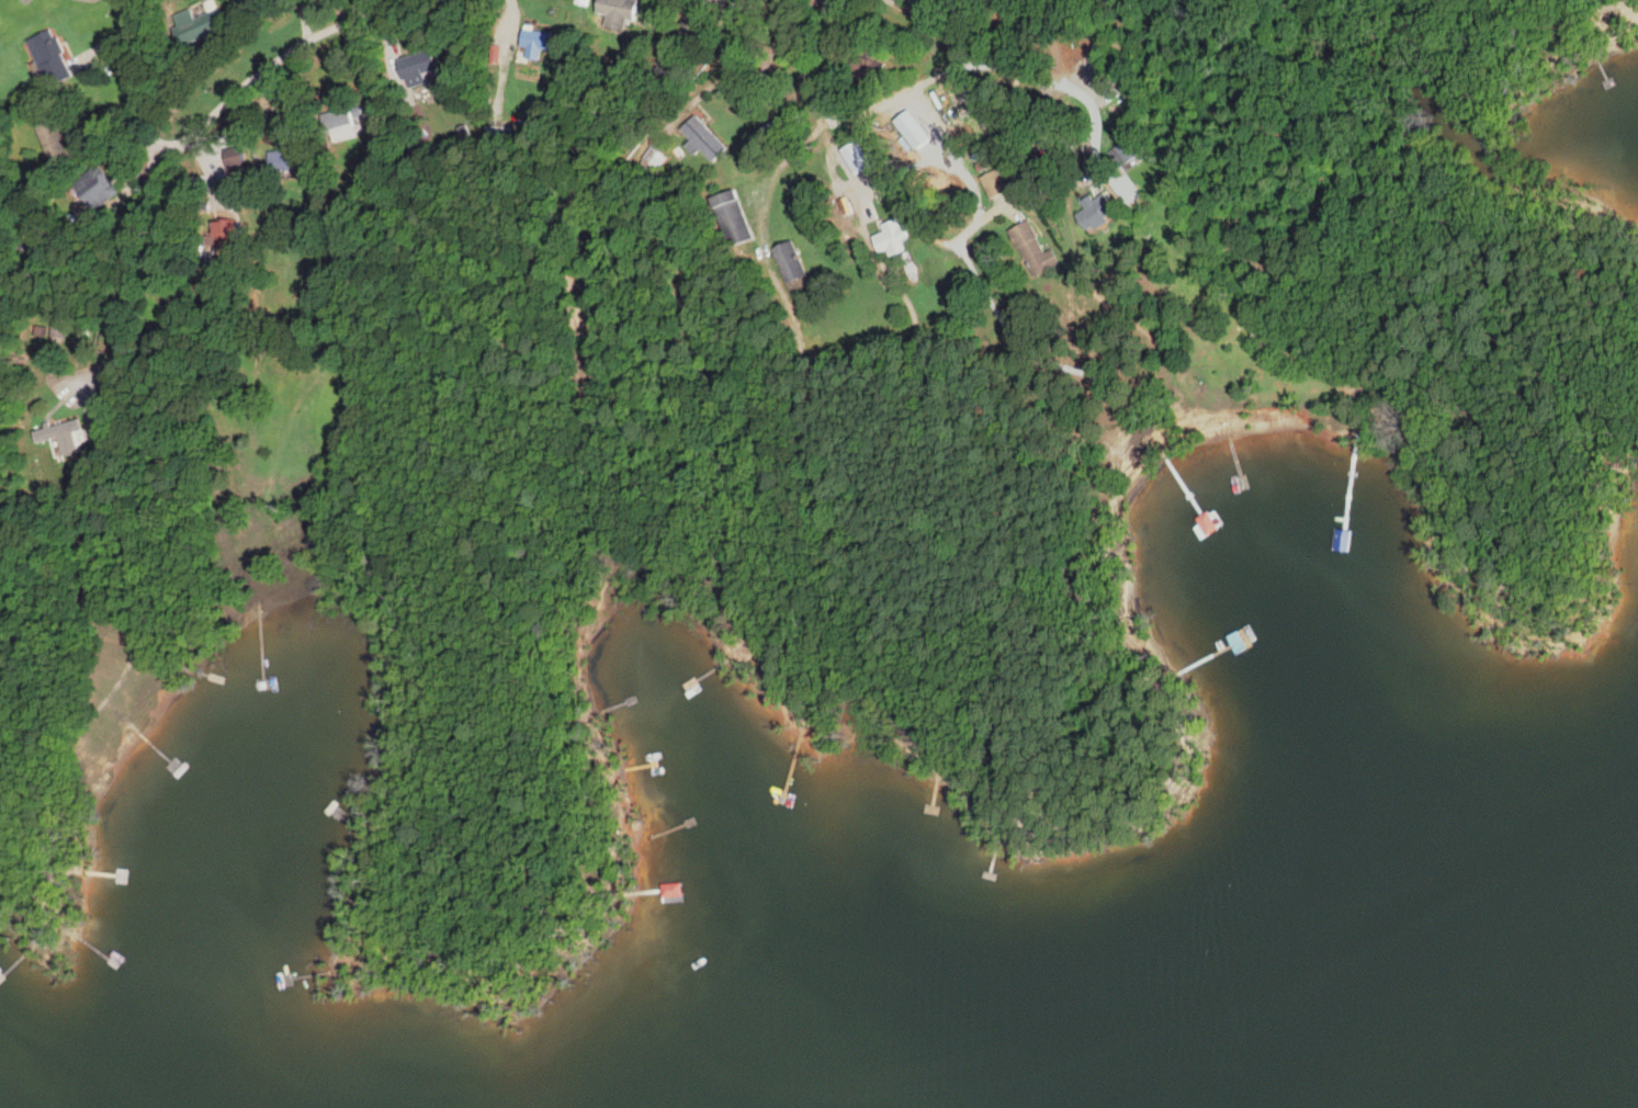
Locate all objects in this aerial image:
building: (1019, 0)
building: (822, 4)
building: (614, 11)
building: (194, 25)
building: (495, 31)
building: (533, 42)
building: (48, 57)
road: (997, 65)
building: (415, 66)
building: (863, 66)
building: (292, 103)
road: (221, 105)
road: (854, 113)
building: (339, 122)
building: (497, 134)
building: (49, 138)
building: (702, 139)
building: (286, 160)
road: (846, 160)
building: (231, 161)
road: (1075, 168)
building: (998, 180)
building: (93, 188)
road: (911, 202)
building: (1094, 211)
building: (730, 217)
building: (219, 235)
building: (891, 235)
building: (1032, 249)
building: (789, 260)
building: (161, 283)
building: (64, 438)
building: (1187, 644)
building: (690, 891)

